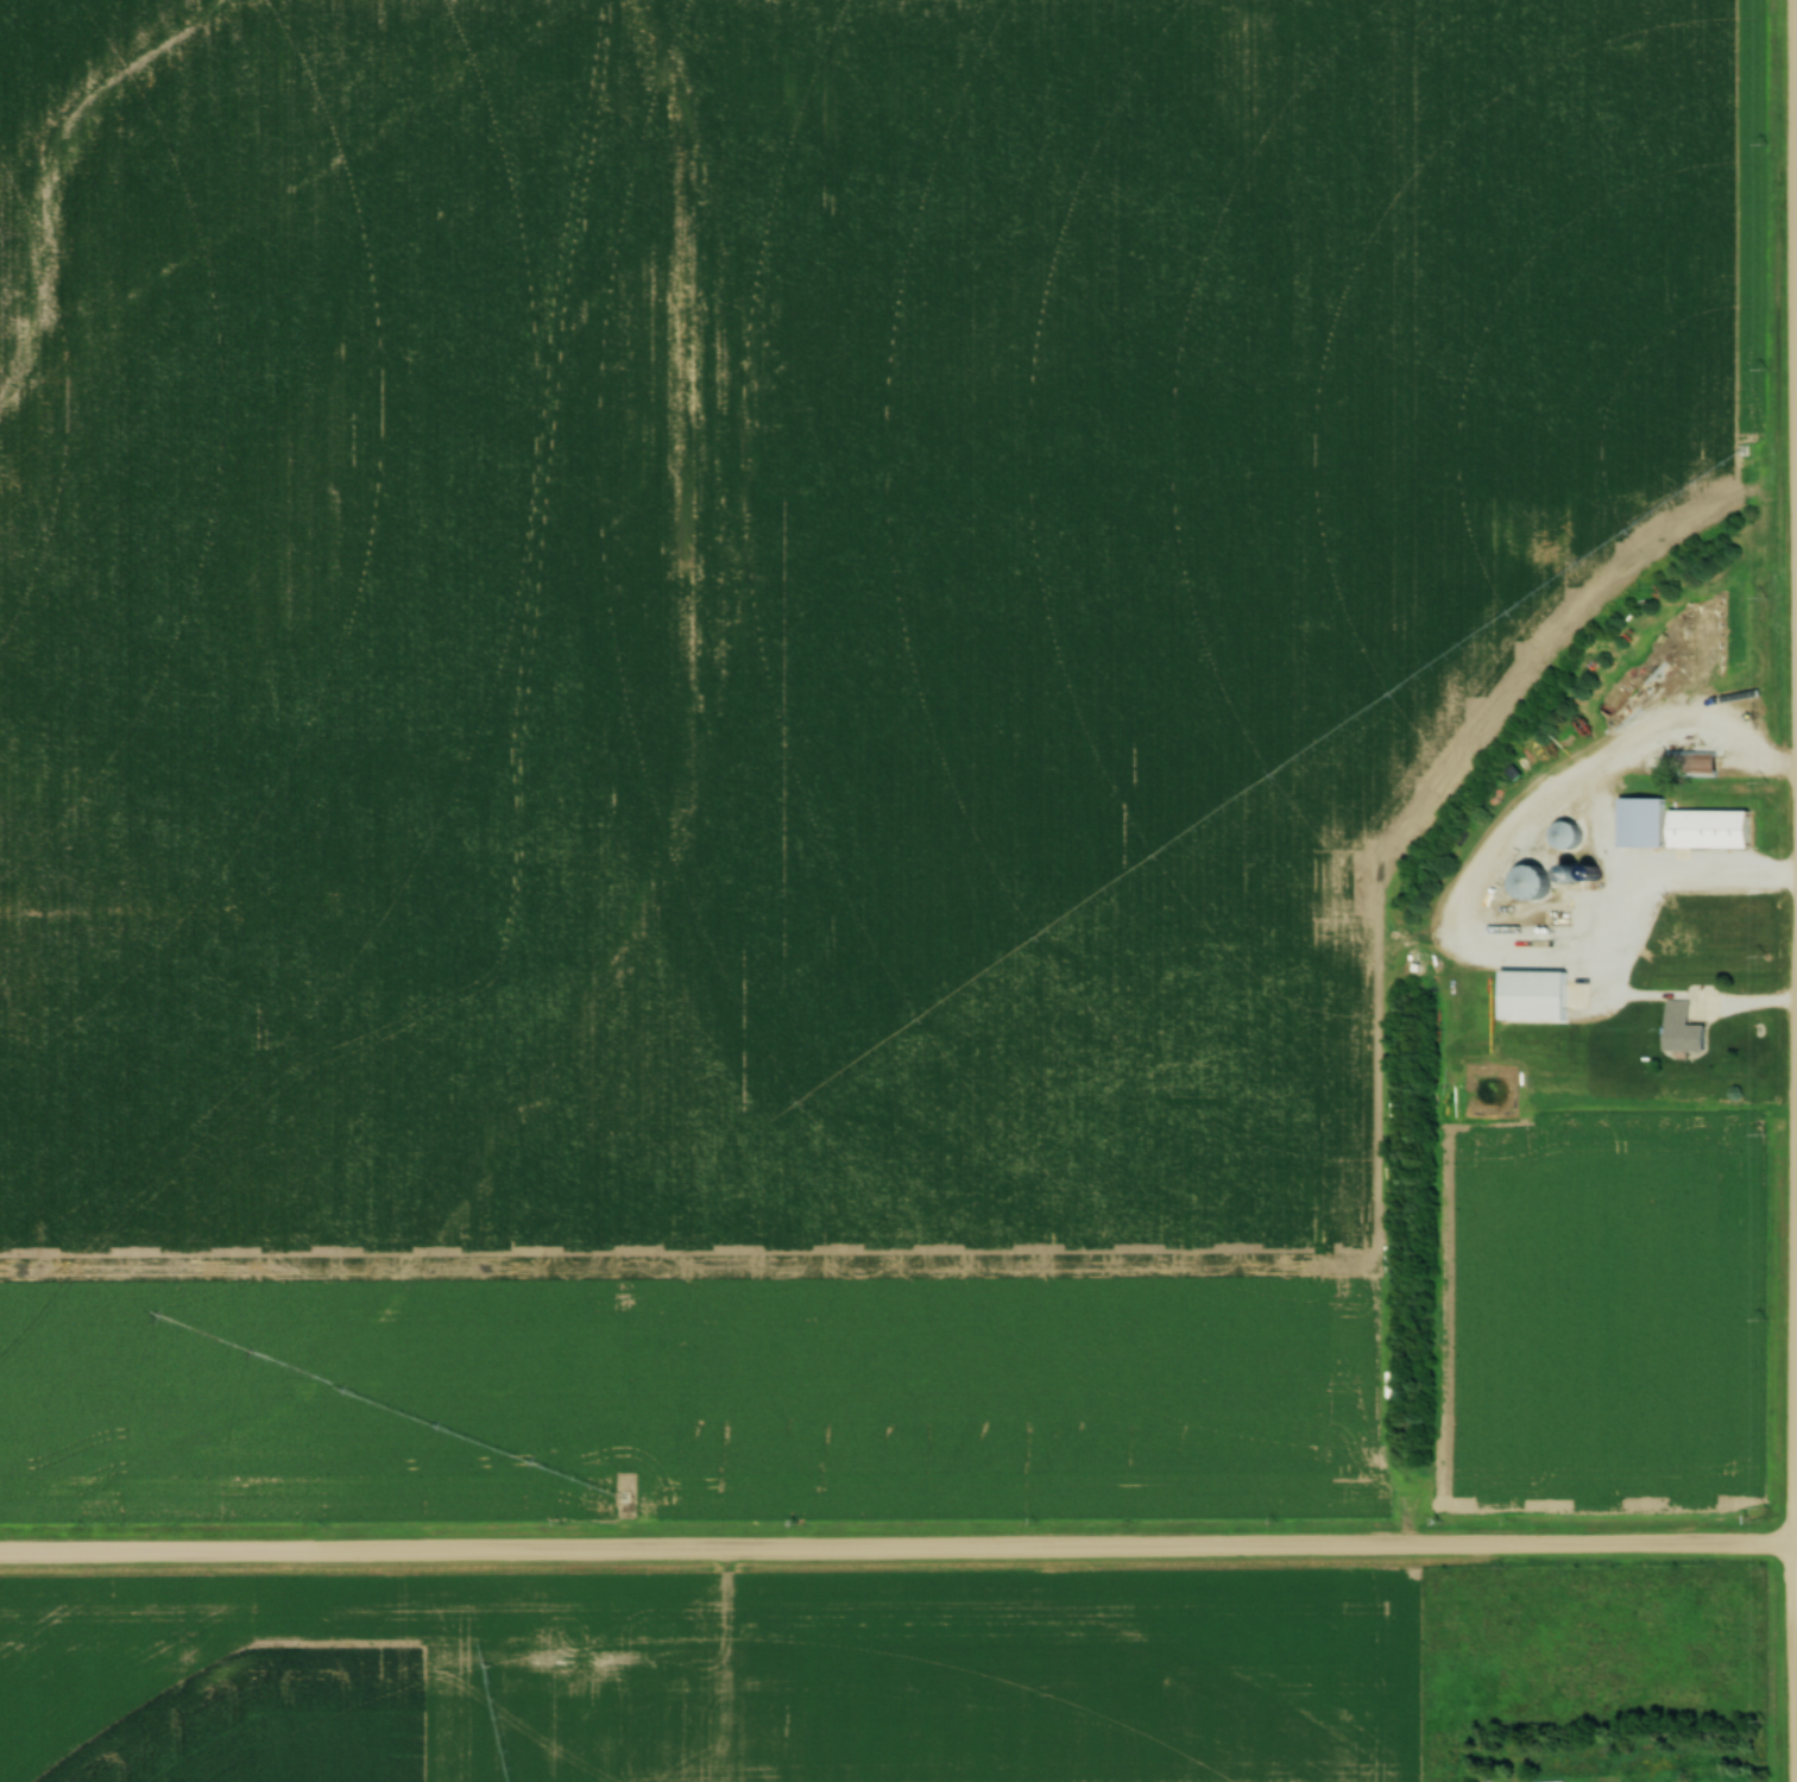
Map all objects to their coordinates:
road: (1796, 202)
building: (1696, 762)
building: (1639, 821)
building: (1707, 827)
building: (1564, 833)
building: (1527, 881)
road: (1475, 889)
building: (1531, 996)
building: (1681, 1028)
road: (1790, 1393)
road: (898, 1549)
building: (1547, 1781)

